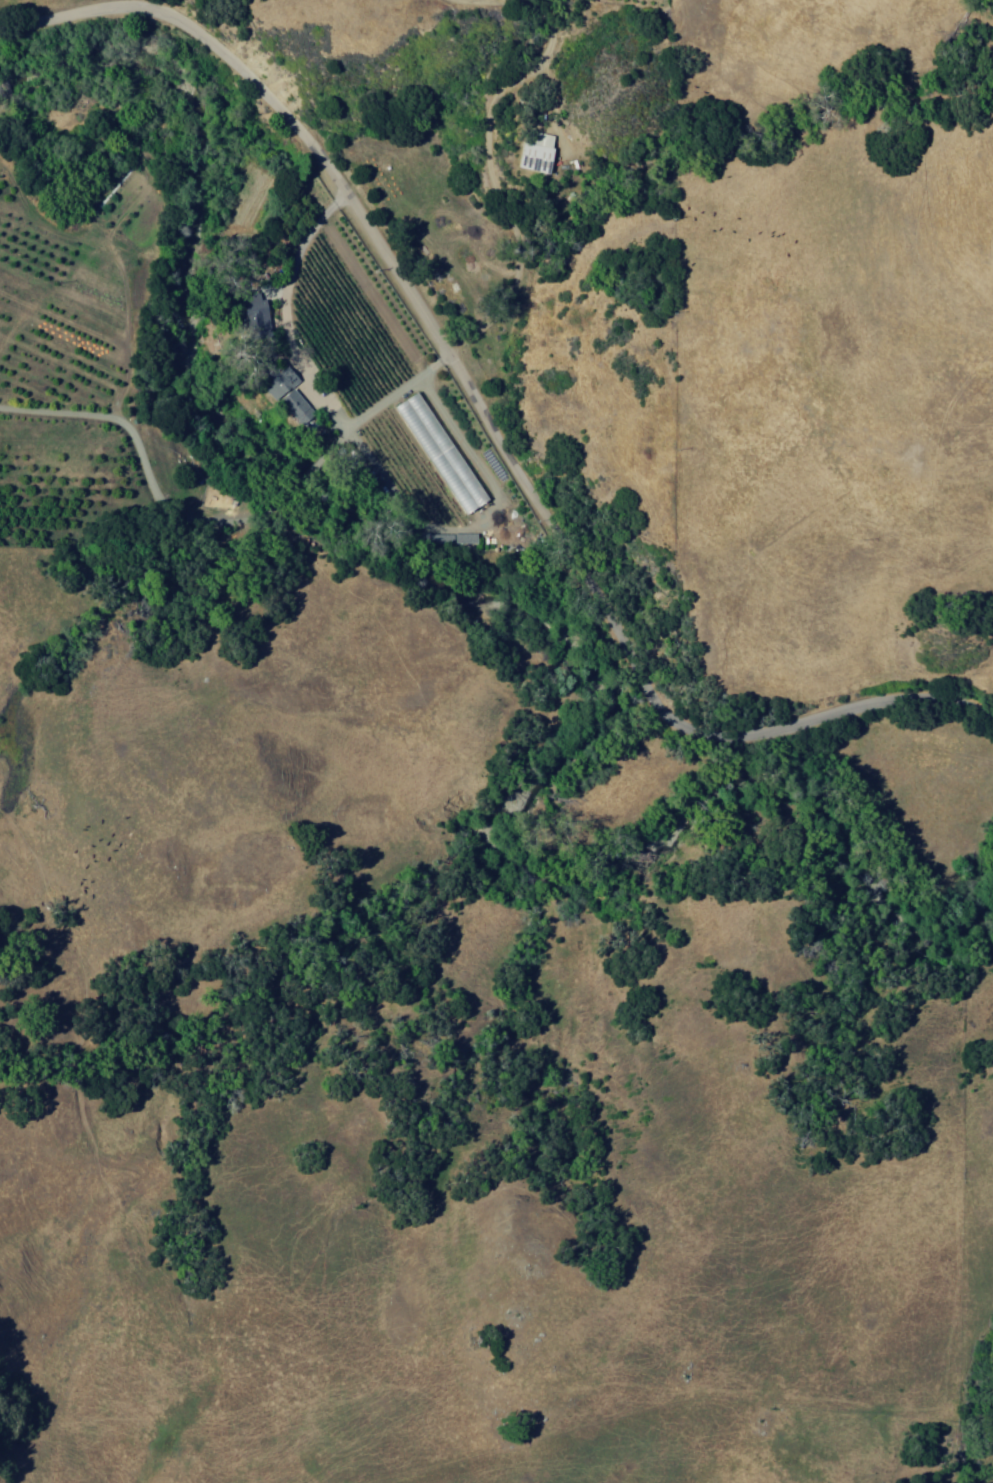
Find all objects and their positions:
building: (538, 150)
road: (487, 171)
road: (303, 251)
building: (256, 311)
crop: (355, 320)
building: (284, 381)
building: (299, 408)
road: (484, 416)
building: (444, 453)
road: (226, 526)
building: (449, 539)

